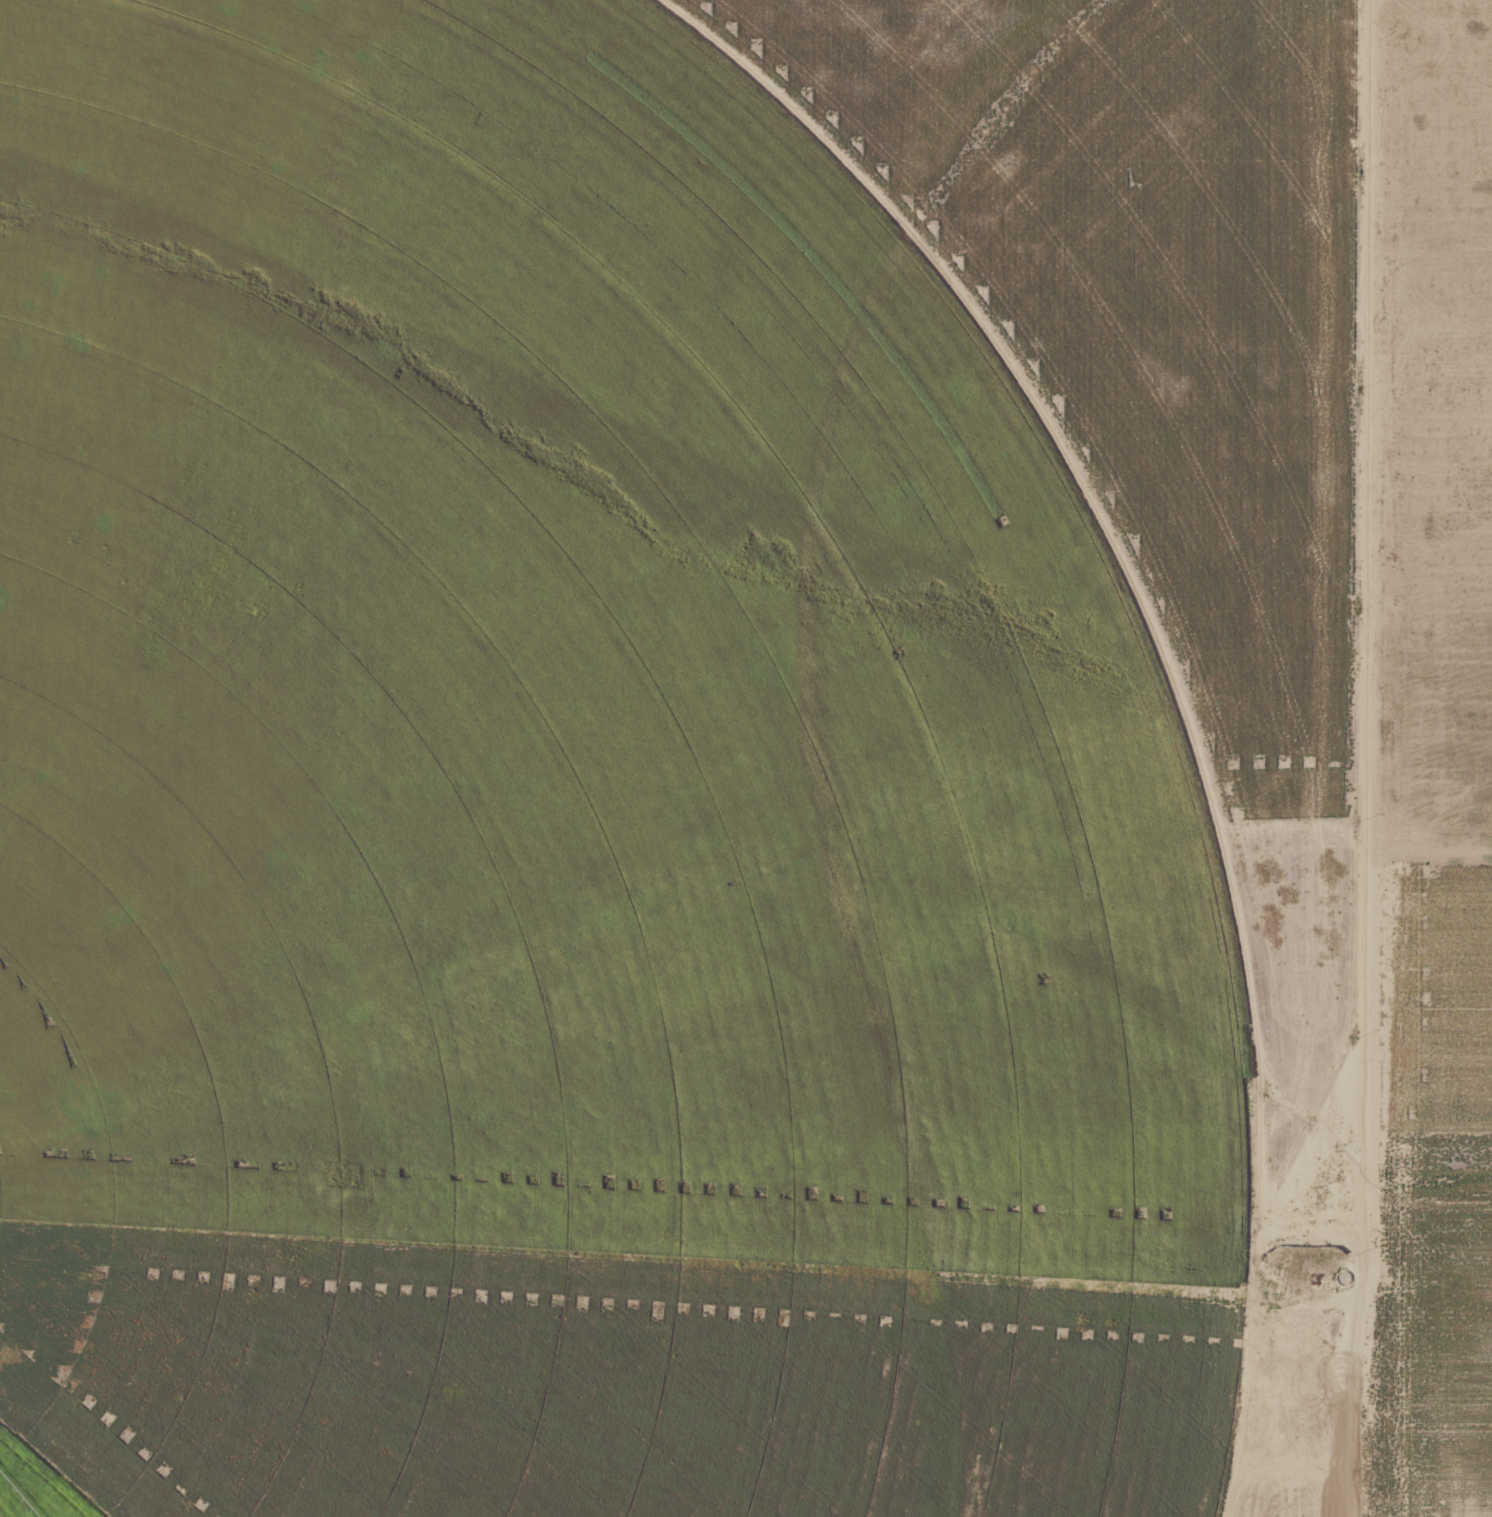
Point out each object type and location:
road: (1362, 1476)

